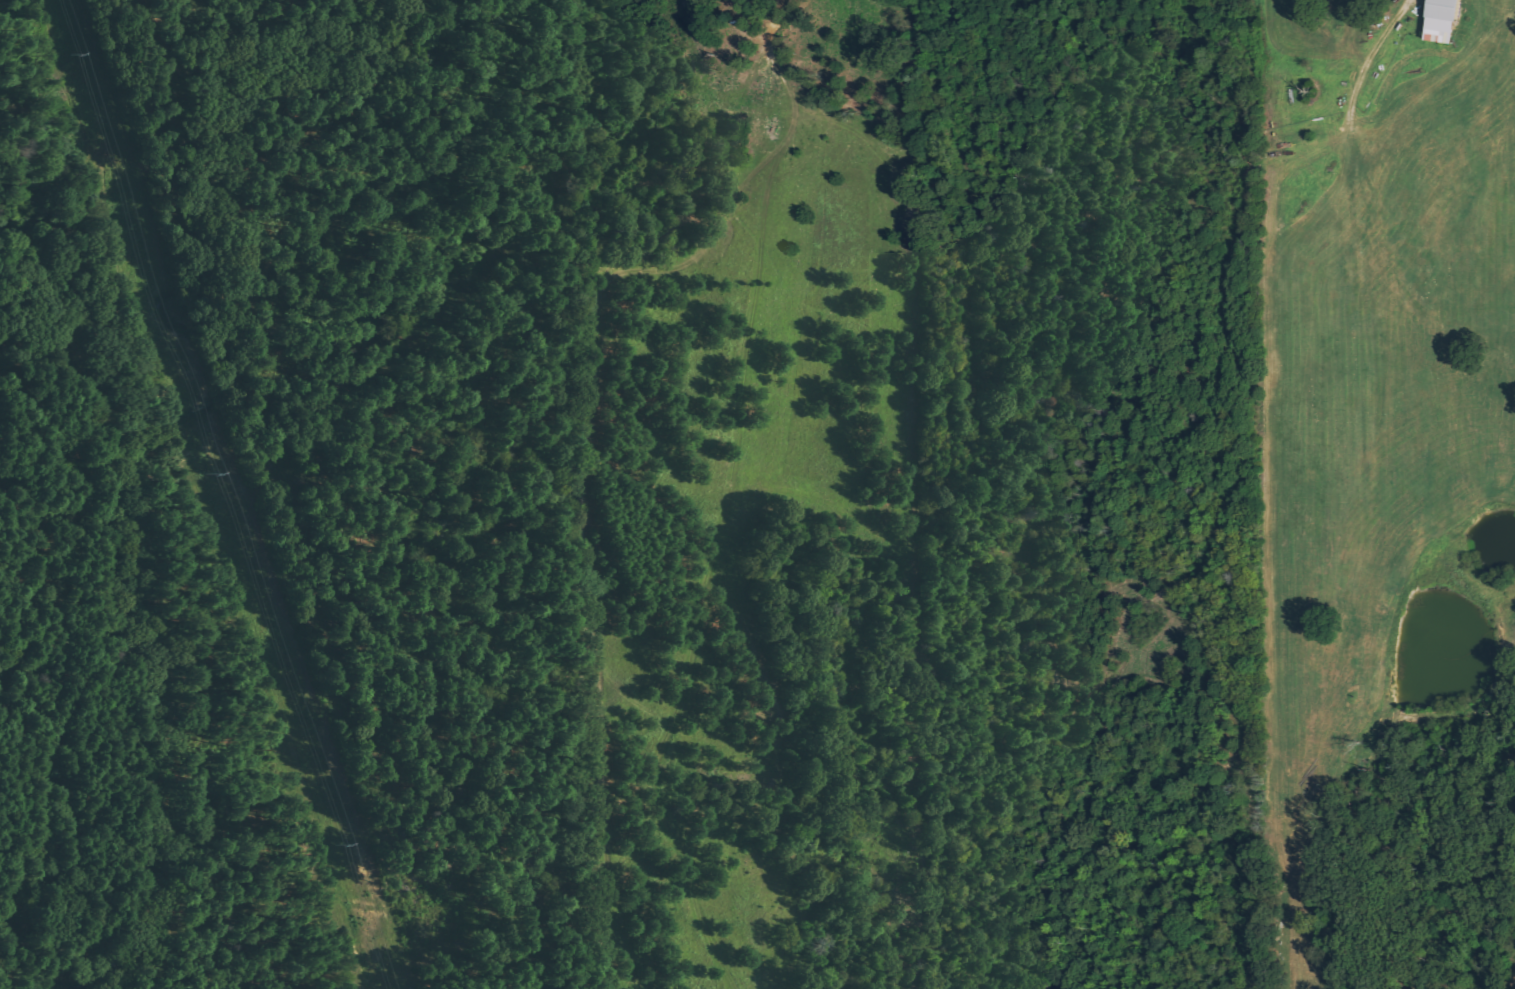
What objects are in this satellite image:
building: (1441, 21)

